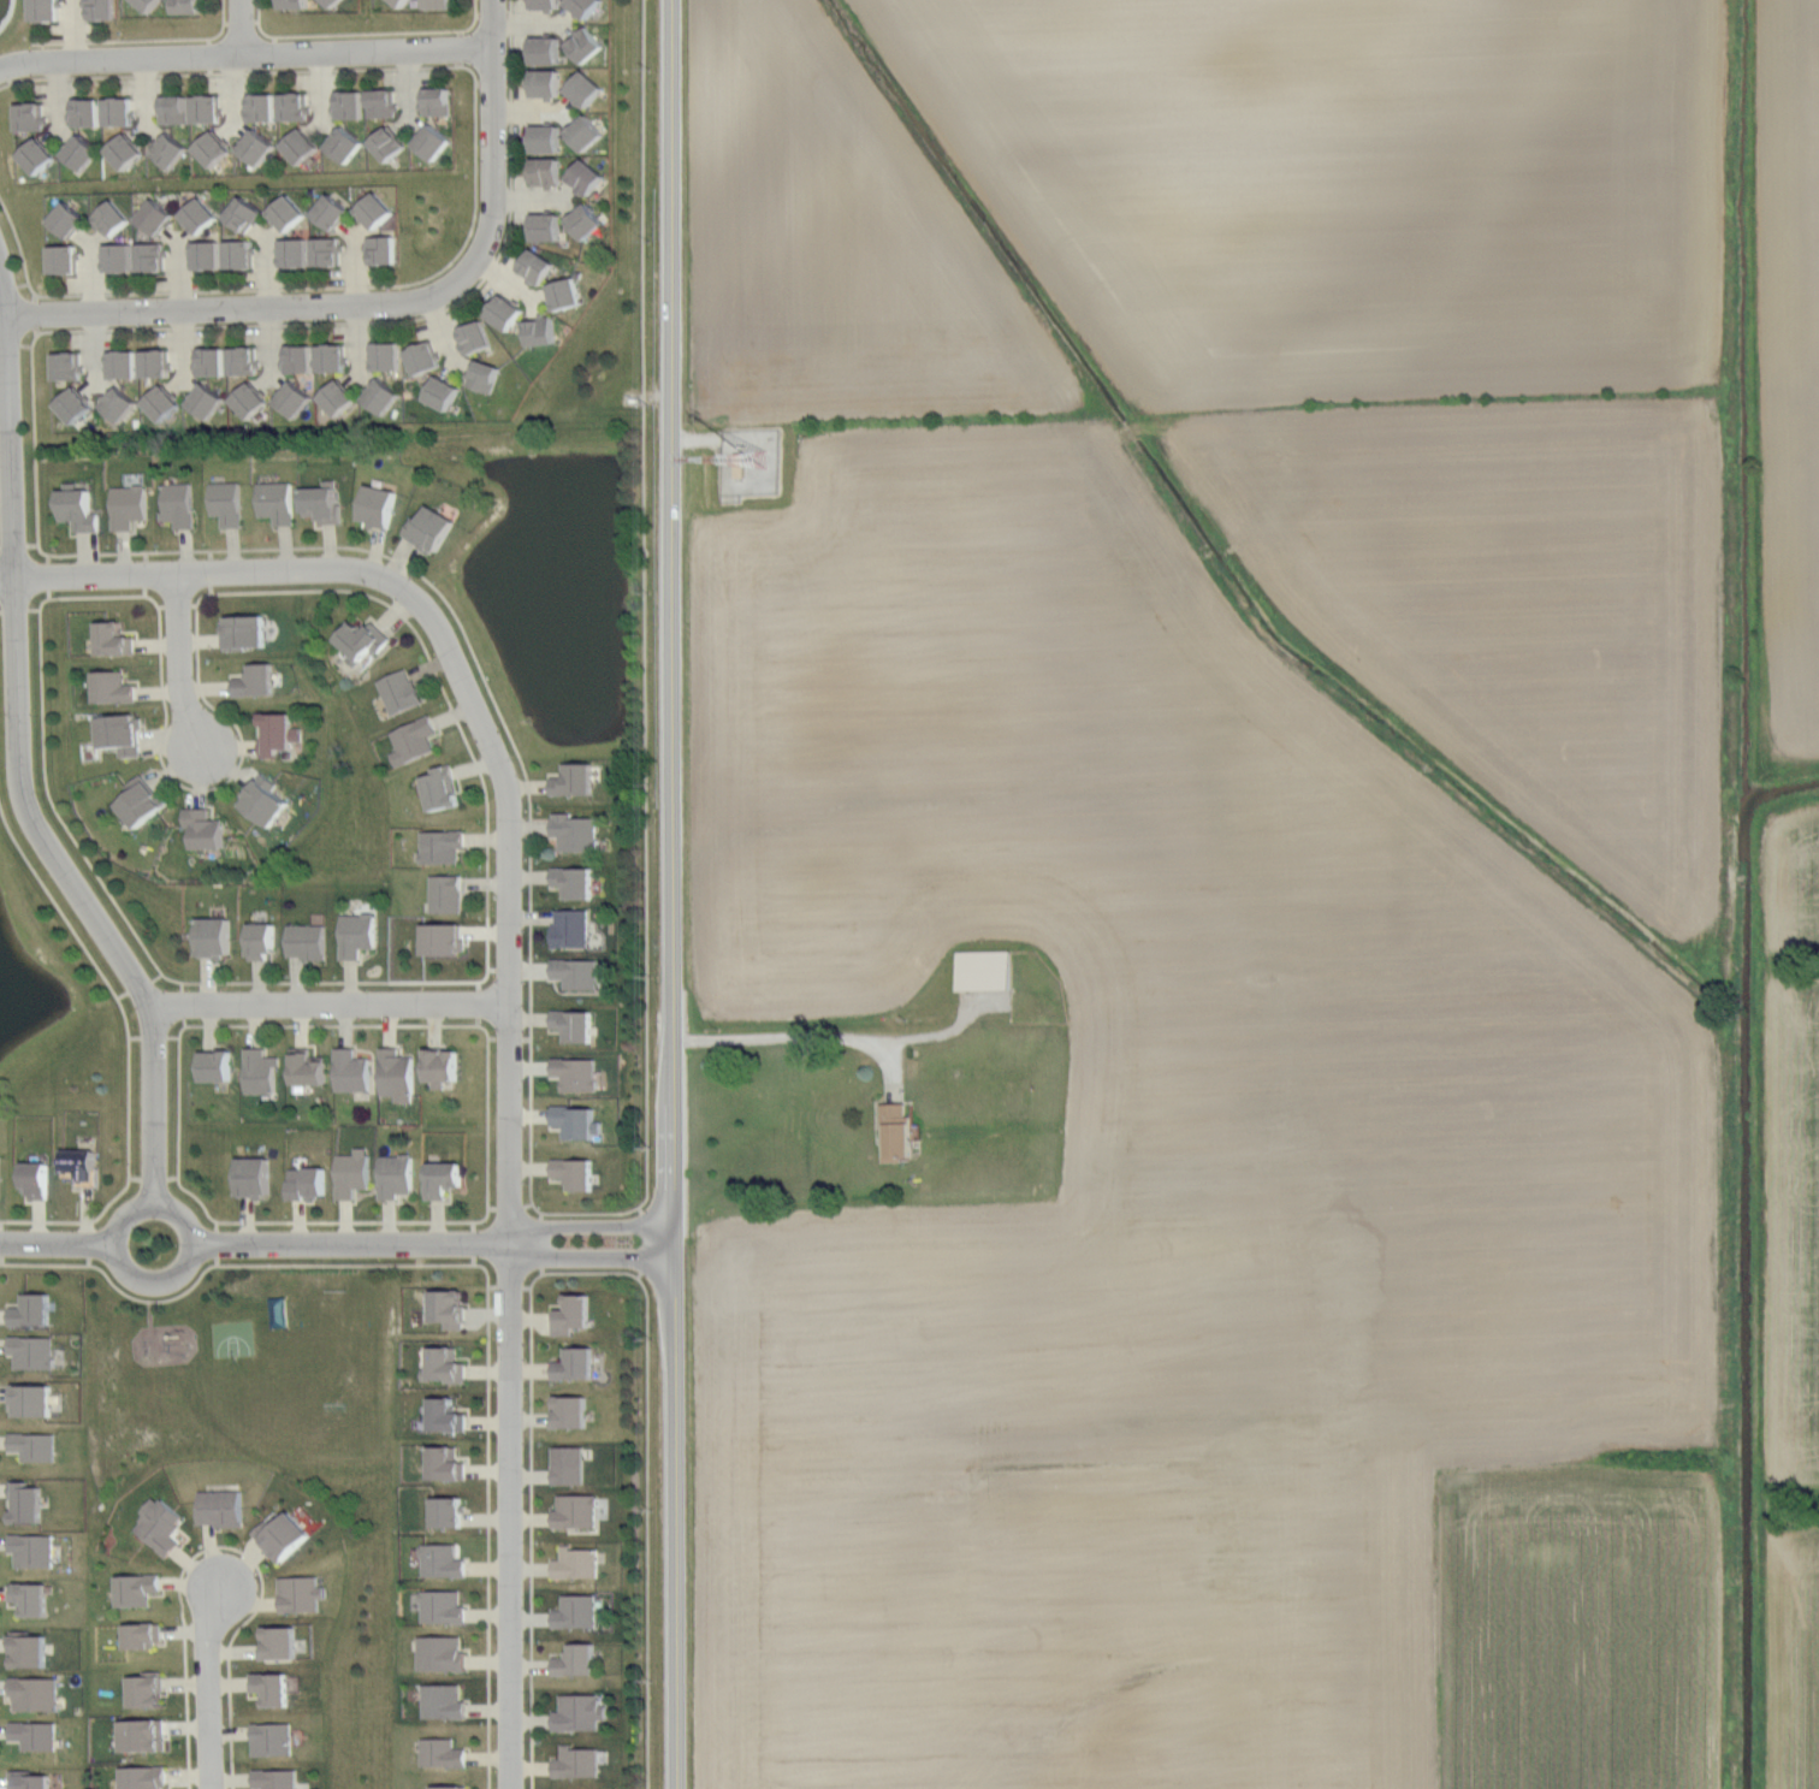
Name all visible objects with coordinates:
building: (331, 2)
building: (401, 2)
building: (149, 4)
building: (294, 4)
building: (440, 4)
building: (546, 5)
building: (188, 6)
building: (583, 6)
building: (46, 8)
building: (100, 8)
road: (248, 29)
road: (363, 32)
road: (142, 38)
building: (586, 45)
building: (546, 49)
road: (247, 57)
building: (546, 83)
building: (585, 89)
building: (437, 101)
building: (381, 102)
building: (349, 105)
building: (295, 106)
building: (261, 107)
building: (207, 108)
building: (174, 109)
building: (85, 111)
building: (118, 112)
building: (30, 117)
building: (586, 132)
road: (497, 136)
building: (546, 137)
building: (433, 141)
building: (389, 142)
building: (345, 143)
building: (300, 146)
building: (214, 147)
building: (256, 147)
building: (125, 150)
building: (170, 150)
building: (81, 153)
building: (36, 155)
building: (546, 171)
building: (586, 177)
road: (475, 194)
building: (377, 209)
building: (286, 211)
building: (332, 211)
building: (244, 214)
building: (200, 215)
building: (111, 217)
building: (155, 217)
building: (69, 219)
building: (586, 220)
building: (546, 226)
building: (383, 249)
building: (327, 250)
building: (295, 251)
building: (239, 253)
building: (206, 254)
building: (152, 255)
building: (118, 256)
building: (65, 257)
building: (535, 267)
building: (565, 294)
road: (239, 308)
building: (505, 312)
building: (541, 330)
building: (473, 337)
building: (386, 355)
building: (332, 357)
building: (423, 357)
building: (300, 359)
building: (243, 360)
building: (211, 361)
building: (156, 362)
building: (123, 363)
building: (69, 366)
building: (484, 375)
building: (443, 391)
building: (338, 396)
building: (381, 396)
building: (295, 398)
building: (206, 399)
building: (250, 399)
building: (162, 402)
building: (76, 404)
building: (118, 405)
building: (740, 464)
building: (277, 500)
building: (227, 503)
building: (324, 503)
building: (178, 504)
building: (129, 505)
building: (378, 507)
building: (79, 510)
building: (432, 528)
road: (137, 551)
road: (215, 576)
road: (644, 603)
building: (244, 630)
building: (113, 639)
building: (362, 640)
road: (176, 665)
building: (255, 680)
building: (114, 688)
building: (399, 692)
building: (120, 733)
building: (278, 733)
building: (414, 740)
road: (18, 757)
road: (475, 762)
building: (574, 780)
building: (440, 788)
building: (143, 800)
building: (265, 801)
building: (203, 828)
building: (576, 831)
building: (442, 845)
building: (575, 881)
building: (446, 893)
crop: (1254, 893)
road: (669, 894)
building: (570, 928)
building: (356, 934)
building: (214, 937)
building: (442, 938)
building: (261, 940)
building: (307, 941)
building: (988, 970)
building: (576, 972)
road: (330, 1005)
building: (574, 1025)
road: (778, 1037)
road: (129, 1050)
road: (488, 1062)
building: (215, 1065)
building: (308, 1066)
building: (440, 1066)
building: (351, 1070)
building: (261, 1071)
building: (577, 1071)
building: (396, 1074)
building: (576, 1121)
building: (901, 1133)
building: (82, 1166)
building: (0, 1168)
building: (575, 1171)
building: (352, 1172)
building: (396, 1174)
building: (254, 1175)
building: (36, 1178)
building: (443, 1178)
building: (306, 1181)
road: (509, 1186)
road: (586, 1228)
road: (351, 1244)
road: (194, 1245)
road: (57, 1246)
road: (585, 1261)
road: (94, 1267)
building: (450, 1304)
building: (36, 1311)
building: (283, 1313)
building: (575, 1315)
park: (239, 1337)
building: (35, 1352)
road: (492, 1357)
building: (579, 1363)
building: (448, 1366)
park: (249, 1375)
building: (35, 1402)
building: (575, 1414)
building: (448, 1416)
building: (37, 1449)
building: (448, 1463)
building: (573, 1463)
road: (535, 1482)
building: (29, 1504)
building: (225, 1507)
building: (449, 1512)
building: (580, 1512)
building: (164, 1523)
road: (652, 1529)
building: (286, 1536)
road: (231, 1546)
building: (36, 1551)
building: (446, 1560)
building: (580, 1564)
building: (141, 1589)
building: (303, 1594)
building: (34, 1599)
building: (445, 1606)
building: (581, 1611)
building: (144, 1635)
building: (283, 1642)
building: (31, 1649)
building: (444, 1653)
building: (580, 1661)
road: (208, 1684)
building: (277, 1689)
building: (148, 1690)
building: (38, 1693)
building: (445, 1700)
building: (585, 1713)
building: (38, 1735)
building: (144, 1735)
building: (277, 1740)
building: (445, 1753)
building: (581, 1764)
building: (146, 1776)
building: (279, 1778)
building: (32, 1779)
building: (451, 1788)

